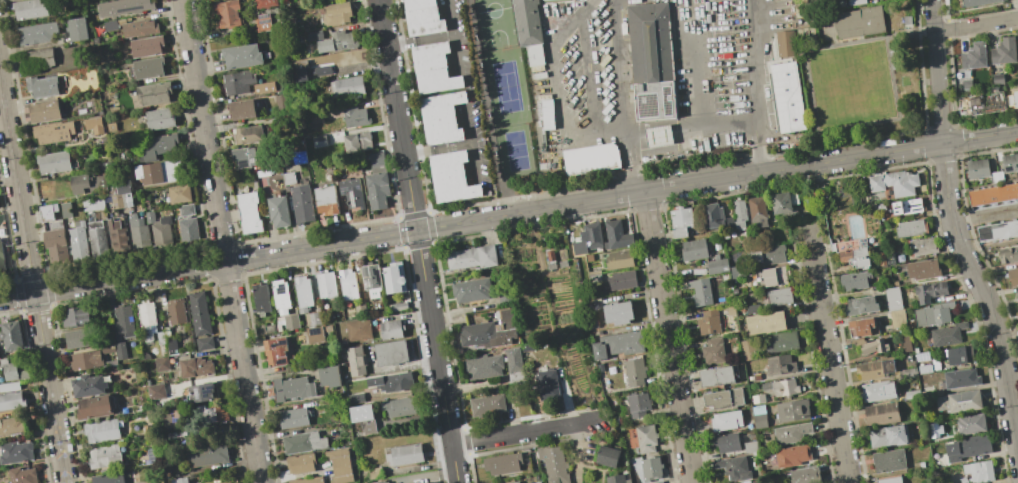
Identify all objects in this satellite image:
building: (315, 0)
building: (855, 1)
building: (976, 2)
building: (263, 3)
building: (121, 7)
building: (29, 8)
rooftop solar panel: (134, 8)
building: (335, 13)
building: (227, 15)
building: (422, 17)
rooftop solar panel: (265, 18)
building: (264, 22)
rooftop solar panel: (266, 22)
building: (859, 22)
park: (497, 23)
road: (976, 25)
building: (132, 27)
building: (76, 29)
building: (528, 29)
road: (910, 31)
building: (35, 33)
building: (313, 35)
road: (455, 35)
road: (886, 36)
road: (420, 39)
building: (338, 41)
building: (785, 43)
building: (146, 46)
building: (1003, 51)
building: (973, 56)
building: (242, 57)
building: (35, 58)
building: (651, 61)
building: (148, 67)
building: (433, 68)
building: (320, 69)
building: (299, 70)
road: (590, 70)
building: (539, 75)
building: (997, 79)
building: (238, 82)
building: (966, 84)
building: (348, 85)
park: (852, 85)
building: (41, 86)
road: (758, 86)
building: (263, 87)
road: (558, 92)
building: (153, 93)
park: (503, 96)
road: (622, 97)
building: (787, 97)
building: (1012, 98)
rooftop solar panel: (667, 103)
building: (981, 103)
rooftop solar panel: (648, 106)
road: (491, 107)
building: (243, 110)
building: (44, 111)
building: (546, 111)
park: (513, 112)
building: (355, 116)
building: (159, 118)
building: (441, 118)
road: (693, 124)
building: (93, 125)
building: (52, 131)
building: (250, 135)
building: (658, 136)
building: (319, 141)
building: (357, 142)
road: (471, 142)
building: (160, 145)
road: (438, 149)
building: (243, 157)
building: (376, 158)
building: (590, 158)
building: (298, 159)
building: (53, 162)
rooftop solar panel: (243, 162)
building: (1010, 164)
rooftop solar panel: (245, 165)
building: (104, 166)
rooftop solar panel: (1007, 166)
building: (976, 168)
building: (173, 169)
building: (149, 173)
building: (996, 176)
building: (451, 177)
building: (288, 178)
building: (87, 182)
building: (900, 182)
building: (875, 183)
building: (123, 186)
road: (16, 190)
rooftop solar panel: (359, 190)
building: (377, 190)
rooftop solar panel: (347, 191)
building: (351, 192)
building: (178, 193)
building: (993, 194)
building: (126, 200)
building: (325, 200)
building: (116, 201)
rooftop solar panel: (352, 202)
building: (783, 202)
building: (301, 203)
building: (92, 204)
building: (906, 206)
building: (186, 209)
building: (65, 210)
building: (756, 211)
building: (48, 212)
building: (278, 212)
road: (525, 212)
building: (250, 213)
building: (739, 213)
building: (712, 215)
building: (681, 221)
building: (729, 221)
building: (159, 228)
building: (187, 228)
building: (910, 228)
road: (954, 228)
building: (997, 230)
building: (138, 231)
building: (592, 235)
building: (615, 235)
building: (116, 236)
building: (96, 238)
building: (78, 241)
road: (220, 241)
road: (417, 241)
building: (55, 244)
building: (922, 246)
building: (579, 247)
building: (693, 249)
building: (851, 251)
building: (766, 254)
building: (1008, 254)
building: (550, 255)
building: (471, 257)
building: (889, 258)
building: (1, 259)
building: (618, 259)
building: (716, 264)
building: (922, 269)
building: (737, 271)
building: (771, 276)
building: (1012, 276)
building: (394, 277)
building: (593, 277)
building: (370, 279)
building: (621, 280)
building: (854, 280)
building: (347, 283)
building: (326, 284)
building: (471, 290)
building: (302, 291)
building: (700, 291)
building: (929, 291)
road: (16, 295)
building: (280, 296)
building: (778, 296)
building: (1016, 296)
building: (260, 298)
building: (892, 298)
building: (860, 305)
building: (397, 306)
building: (752, 309)
building: (175, 310)
building: (359, 311)
building: (617, 312)
building: (199, 314)
building: (932, 314)
building: (76, 317)
building: (896, 317)
building: (312, 319)
building: (123, 320)
building: (290, 321)
building: (148, 322)
building: (707, 322)
building: (764, 322)
building: (861, 327)
building: (390, 329)
building: (357, 330)
building: (489, 331)
building: (314, 334)
building: (946, 334)
building: (11, 335)
road: (667, 337)
building: (75, 340)
building: (781, 341)
building: (904, 341)
building: (204, 342)
building: (617, 344)
building: (869, 345)
building: (171, 346)
building: (527, 346)
building: (747, 348)
building: (275, 350)
building: (713, 350)
building: (120, 351)
building: (390, 352)
road: (827, 355)
building: (960, 355)
building: (86, 360)
building: (354, 361)
building: (160, 364)
building: (779, 364)
building: (194, 366)
building: (483, 366)
building: (513, 366)
building: (874, 368)
building: (924, 368)
building: (11, 370)
building: (634, 372)
building: (329, 376)
building: (715, 376)
building: (959, 378)
building: (390, 381)
building: (547, 384)
building: (9, 386)
building: (87, 386)
road: (49, 387)
building: (779, 387)
building: (292, 389)
building: (877, 390)
building: (156, 391)
building: (200, 392)
rooftop solar panel: (197, 394)
rooftop solar panel: (209, 394)
building: (911, 394)
building: (355, 398)
building: (723, 398)
building: (757, 398)
building: (10, 400)
building: (958, 401)
building: (487, 404)
building: (637, 404)
building: (401, 406)
building: (96, 409)
building: (791, 410)
building: (201, 414)
building: (881, 414)
building: (758, 415)
building: (362, 417)
building: (294, 418)
building: (725, 420)
building: (970, 423)
building: (11, 426)
building: (934, 429)
building: (101, 431)
road: (522, 432)
building: (789, 432)
building: (888, 435)
building: (645, 438)
building: (303, 442)
building: (725, 442)
building: (749, 446)
building: (967, 447)
building: (17, 451)
building: (404, 454)
building: (208, 455)
building: (791, 455)
building: (607, 456)
building: (105, 457)
building: (144, 459)
building: (888, 460)
building: (299, 463)
building: (502, 463)
building: (553, 464)
building: (340, 465)
building: (732, 467)
building: (650, 468)
building: (978, 471)
building: (374, 472)
building: (21, 475)
building: (805, 475)
building: (108, 478)
building: (616, 479)
building: (179, 480)
building: (308, 480)
building: (890, 480)
building: (743, 481)
building: (384, 482)
building: (425, 482)
building: (513, 482)
building: (537, 482)
building: (657, 482)

